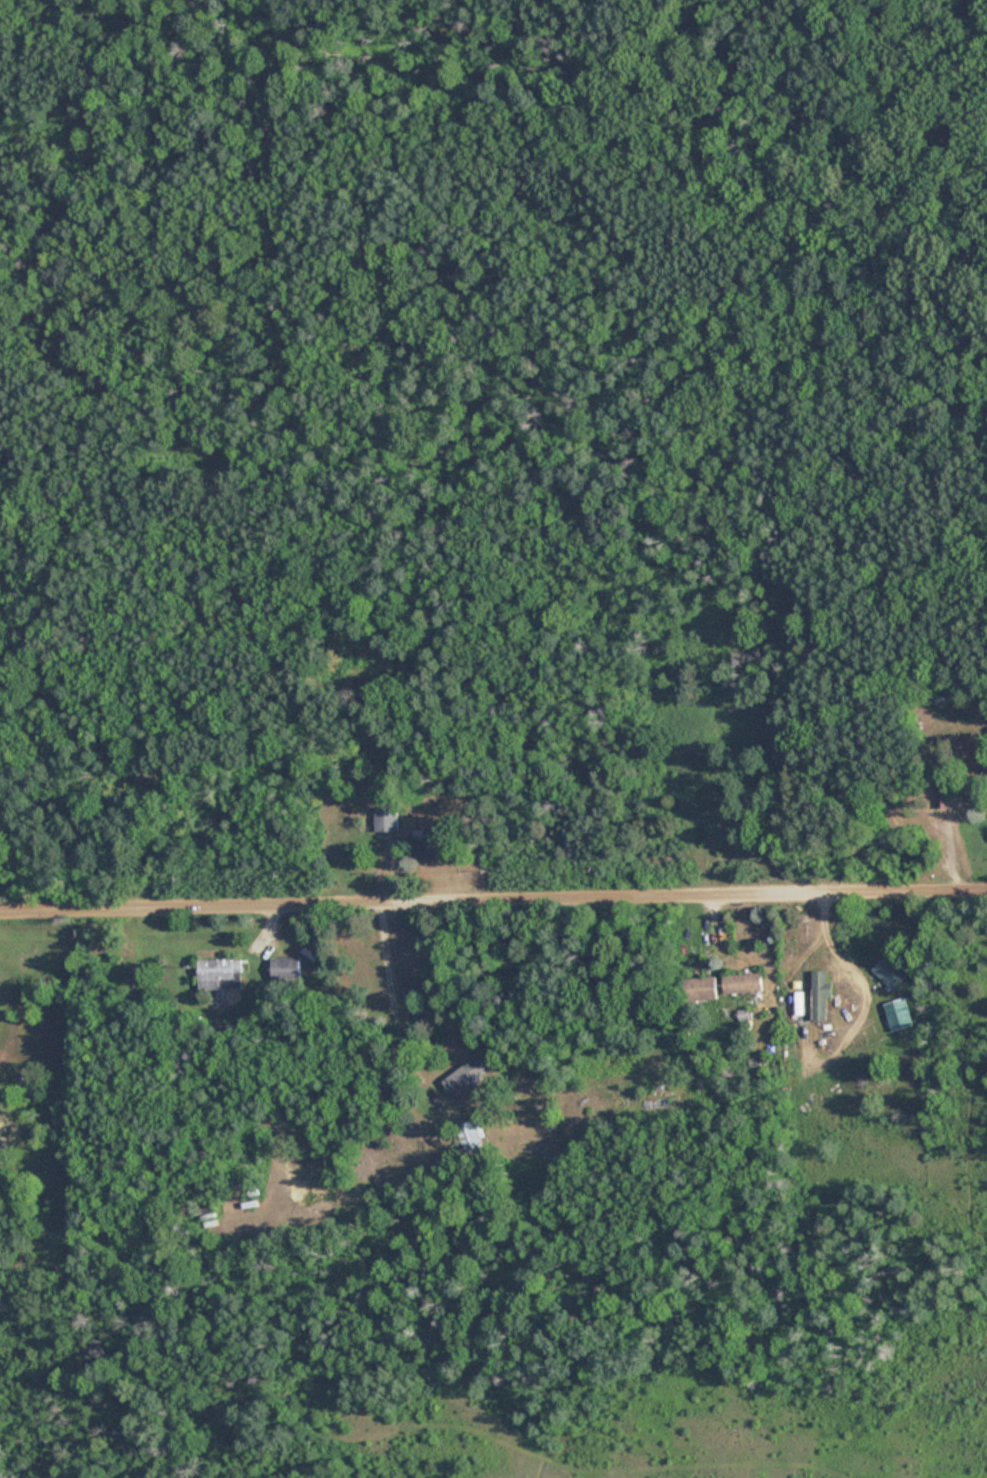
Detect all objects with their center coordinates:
park: (872, 203)
park: (149, 456)
building: (943, 799)
building: (386, 819)
building: (436, 844)
road: (493, 903)
building: (285, 970)
building: (219, 973)
building: (889, 973)
building: (743, 983)
building: (700, 989)
building: (821, 997)
building: (467, 1075)
building: (471, 1133)

